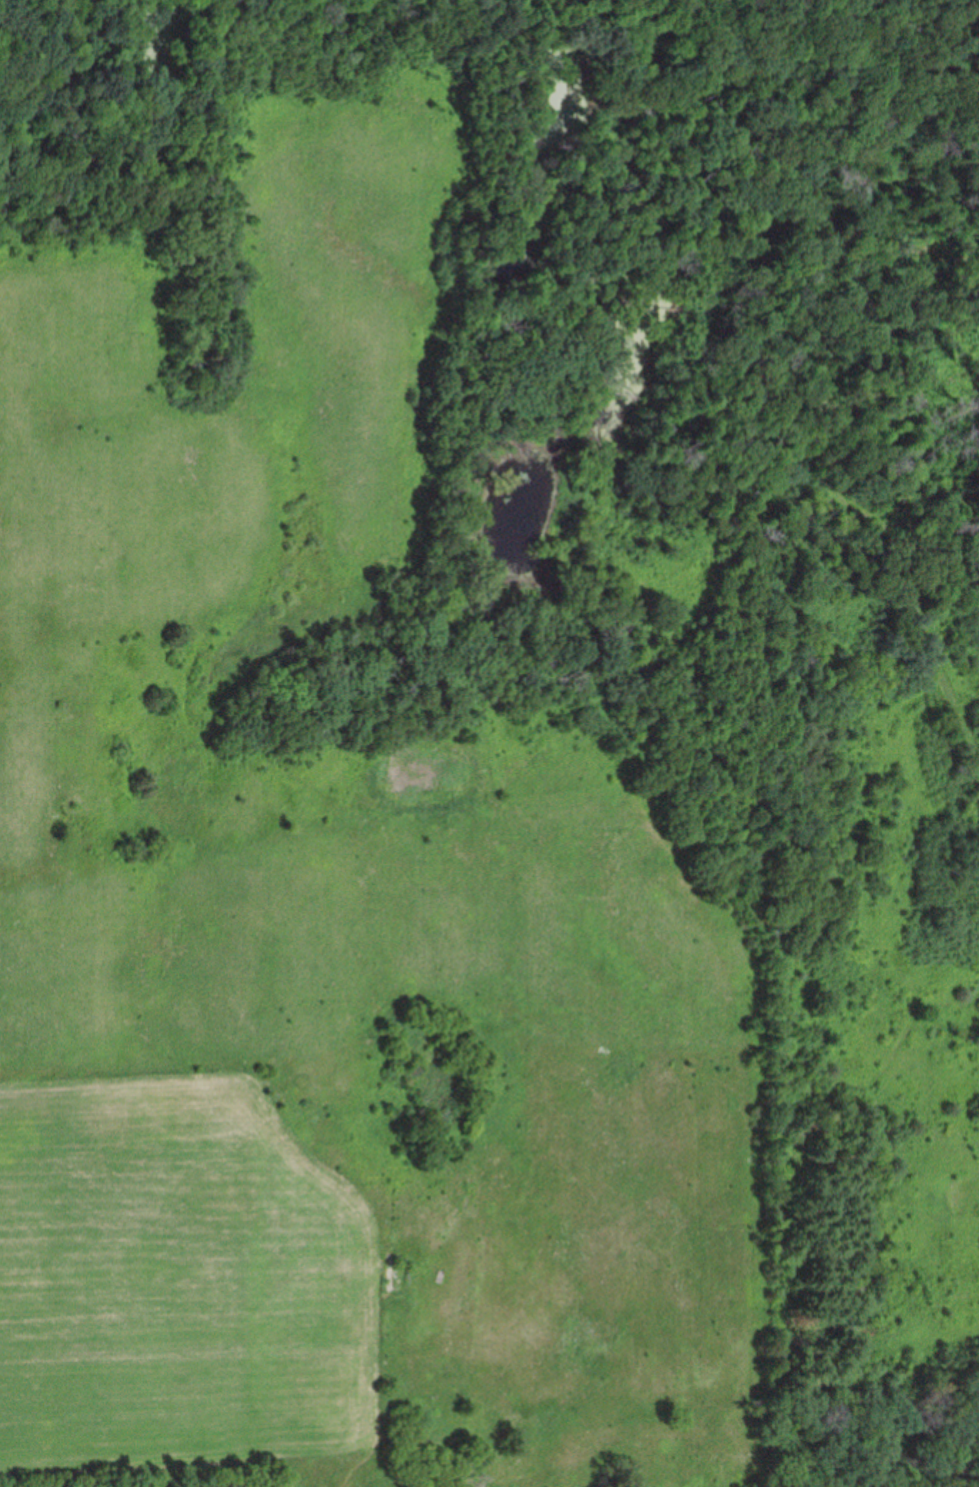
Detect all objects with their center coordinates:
road: (840, 470)
park: (489, 743)

